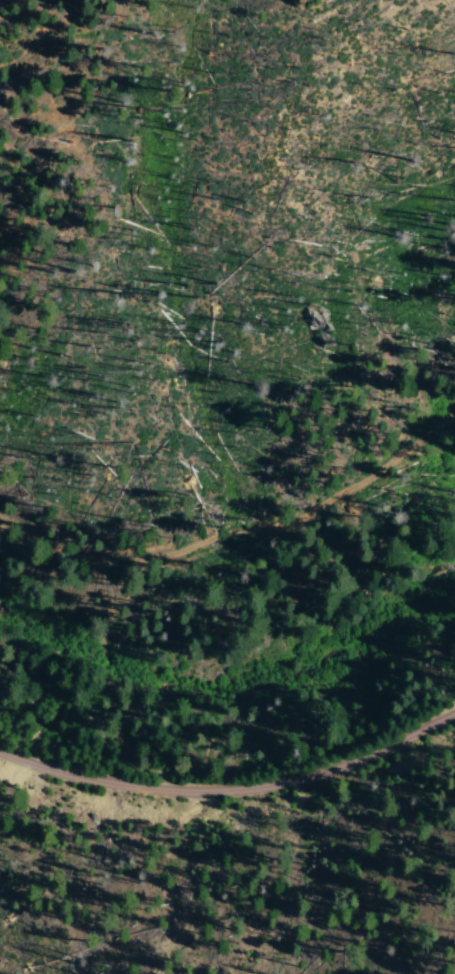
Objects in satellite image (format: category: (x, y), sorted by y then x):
road: (235, 463)
road: (229, 788)

